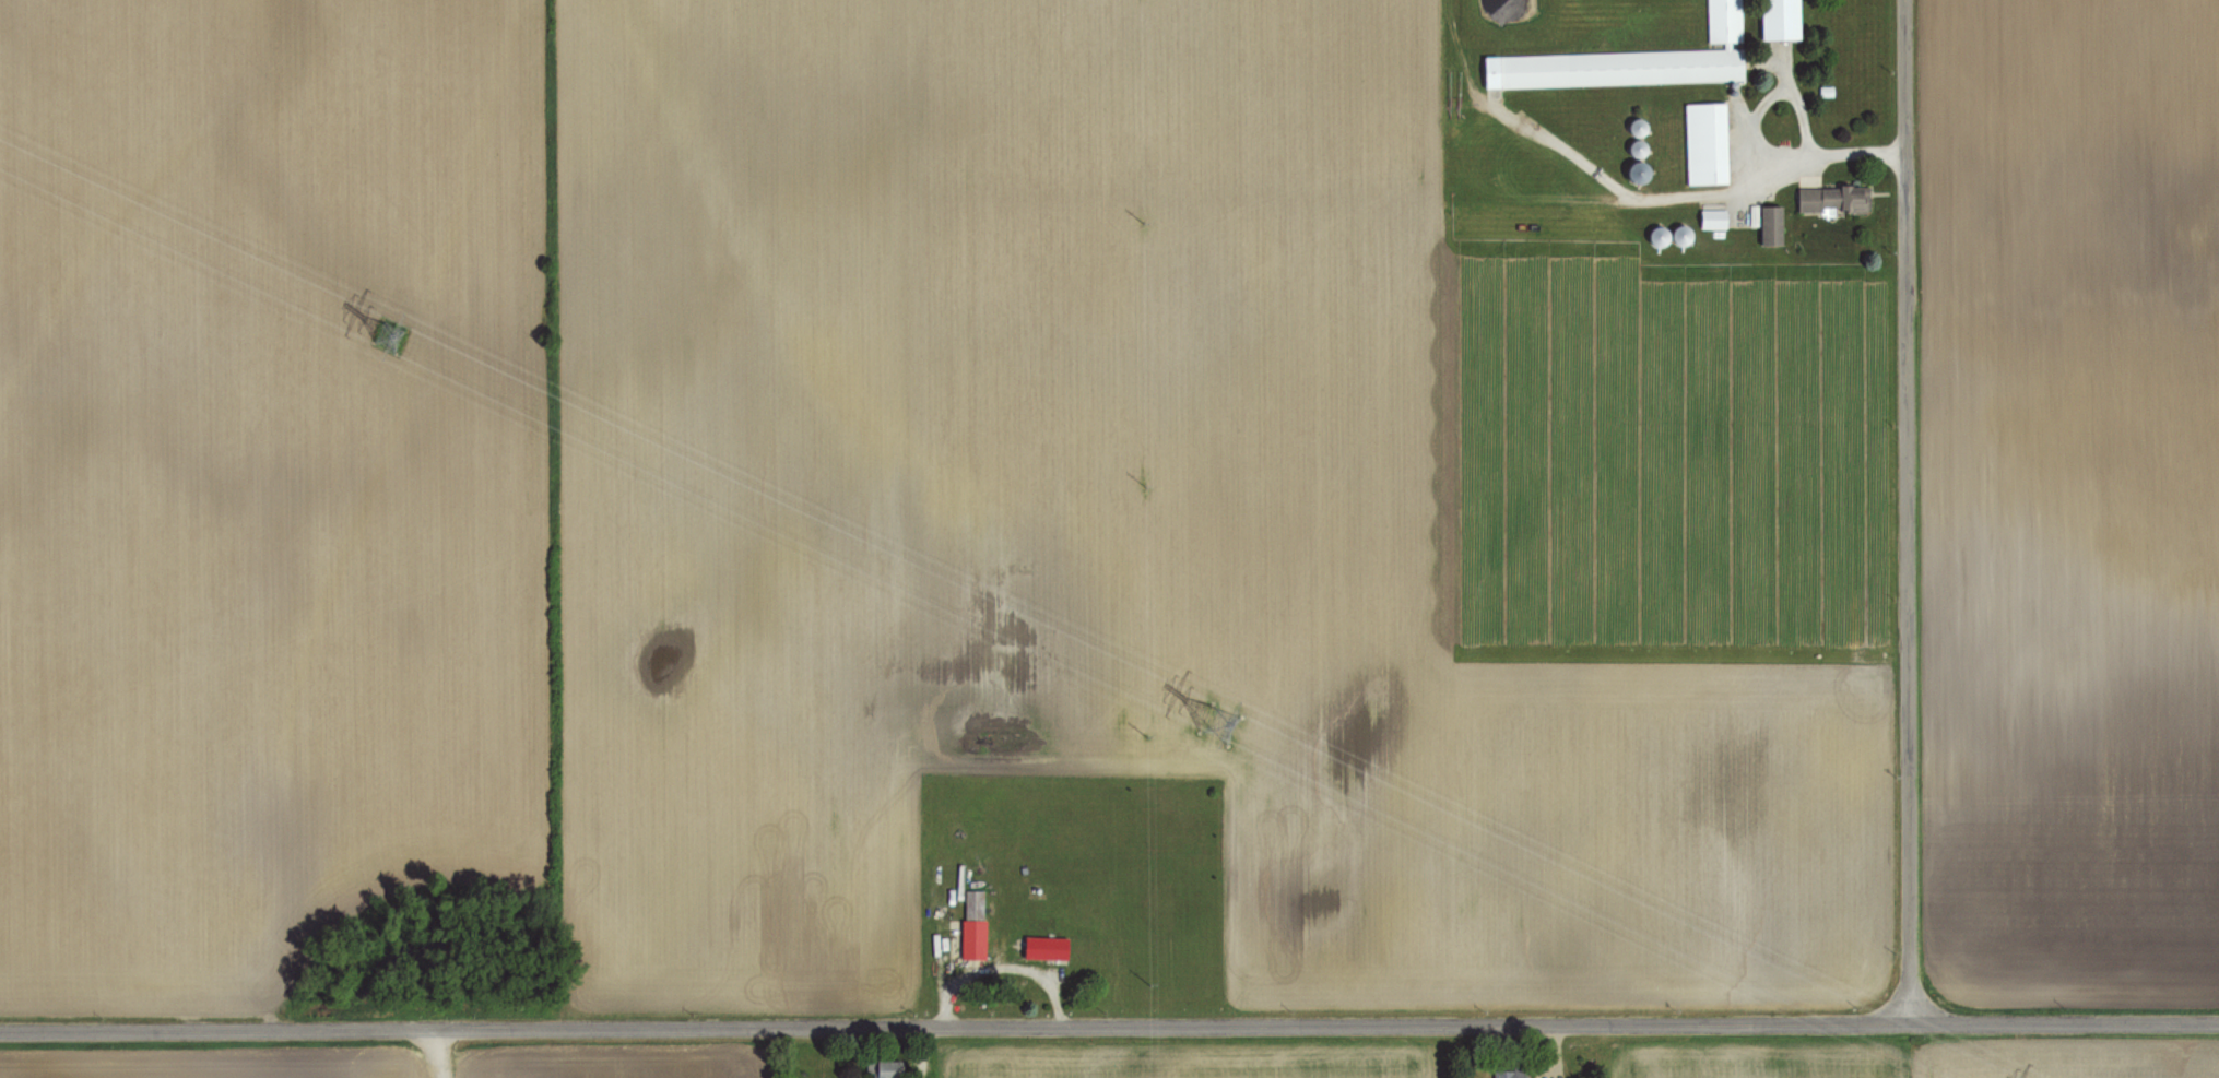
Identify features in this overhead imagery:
building: (1777, 22)
building: (1634, 61)
building: (1640, 127)
building: (1709, 143)
building: (1642, 171)
road: (1710, 189)
building: (1836, 199)
building: (1716, 220)
building: (1774, 225)
building: (2196, 227)
building: (1686, 235)
building: (1663, 236)
road: (2062, 306)
power tower: (391, 337)
road: (1903, 511)
power tower: (1220, 722)
building: (976, 924)
road: (1109, 1026)
road: (442, 1053)
building: (889, 1069)
building: (1512, 1074)

